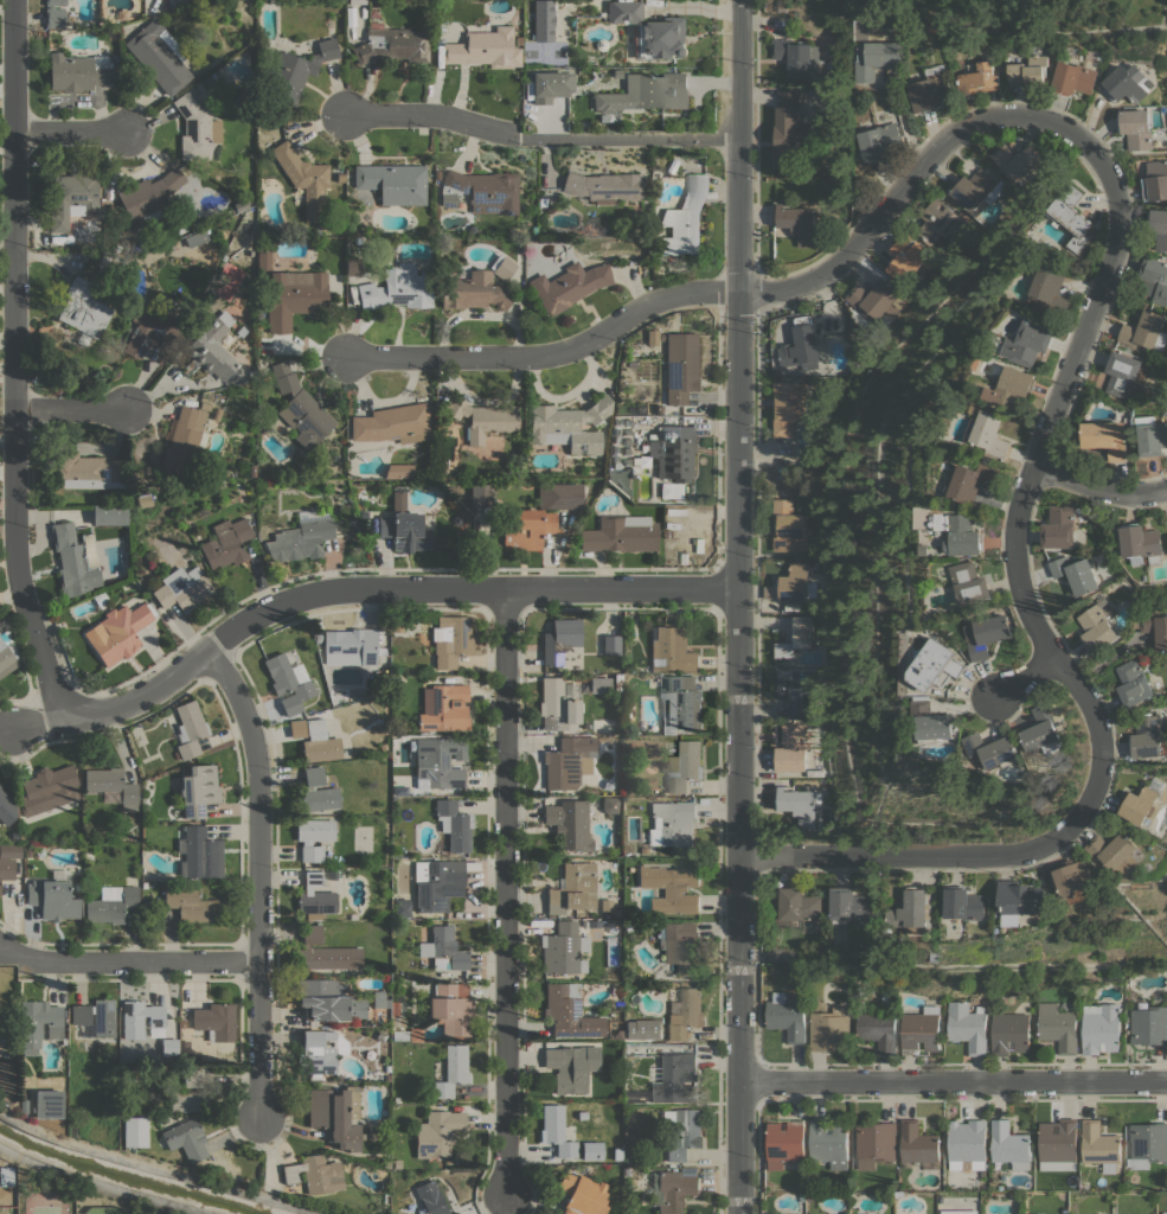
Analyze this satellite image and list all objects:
building: (54, 13)
building: (543, 20)
building: (650, 31)
building: (518, 39)
building: (390, 41)
building: (601, 45)
building: (483, 49)
building: (159, 55)
building: (794, 57)
building: (878, 59)
building: (296, 70)
building: (1031, 70)
building: (77, 71)
building: (979, 76)
building: (1076, 78)
building: (1128, 83)
building: (550, 85)
building: (932, 88)
building: (646, 92)
building: (603, 117)
building: (195, 128)
building: (1137, 128)
building: (789, 129)
road: (70, 130)
road: (541, 139)
building: (880, 141)
building: (1020, 162)
building: (437, 174)
building: (303, 180)
building: (1156, 180)
building: (392, 183)
building: (603, 186)
building: (976, 189)
building: (481, 191)
building: (148, 196)
building: (76, 198)
building: (541, 202)
building: (364, 216)
building: (685, 218)
building: (1071, 218)
building: (937, 221)
building: (797, 222)
building: (1160, 226)
building: (472, 228)
building: (358, 231)
building: (358, 239)
building: (263, 256)
building: (906, 256)
building: (243, 261)
building: (353, 266)
building: (501, 266)
building: (1154, 280)
building: (568, 286)
building: (398, 287)
building: (473, 290)
building: (1051, 290)
road: (755, 292)
building: (294, 296)
building: (877, 299)
building: (83, 307)
building: (150, 328)
building: (1144, 331)
building: (652, 337)
building: (1031, 343)
building: (804, 345)
building: (211, 350)
road: (15, 363)
building: (681, 366)
building: (1126, 373)
building: (1013, 386)
building: (204, 405)
building: (788, 405)
building: (300, 408)
road: (72, 409)
building: (630, 409)
building: (214, 413)
building: (482, 418)
building: (392, 423)
building: (569, 424)
building: (989, 428)
building: (652, 435)
building: (1152, 435)
building: (1107, 437)
building: (182, 439)
building: (673, 452)
building: (806, 468)
building: (250, 469)
building: (84, 471)
building: (399, 471)
building: (622, 479)
building: (976, 480)
road: (1027, 488)
road: (1101, 490)
building: (481, 496)
building: (559, 496)
building: (146, 499)
building: (109, 515)
building: (790, 528)
building: (1059, 528)
building: (527, 529)
building: (404, 531)
building: (620, 533)
building: (667, 533)
building: (966, 535)
building: (300, 537)
building: (225, 543)
building: (1142, 543)
building: (928, 549)
building: (72, 561)
building: (1076, 574)
building: (972, 582)
building: (794, 584)
building: (181, 588)
road: (355, 588)
building: (101, 600)
road: (738, 607)
building: (397, 624)
building: (1096, 628)
building: (1155, 628)
building: (118, 632)
building: (988, 635)
building: (796, 638)
building: (559, 639)
building: (451, 640)
building: (610, 645)
building: (350, 646)
building: (672, 651)
building: (6, 658)
building: (938, 664)
road: (1025, 676)
building: (397, 677)
building: (1135, 682)
building: (287, 683)
building: (599, 684)
building: (795, 697)
building: (560, 702)
building: (679, 702)
building: (443, 707)
building: (936, 721)
building: (296, 728)
building: (585, 728)
building: (188, 729)
building: (1044, 729)
building: (1148, 736)
building: (319, 742)
building: (791, 748)
building: (995, 749)
building: (568, 761)
building: (436, 765)
building: (685, 766)
building: (111, 785)
building: (47, 788)
building: (199, 790)
building: (318, 791)
building: (1143, 801)
building: (609, 804)
building: (799, 804)
building: (6, 807)
building: (570, 823)
building: (454, 824)
building: (672, 824)
building: (14, 833)
building: (315, 838)
building: (9, 849)
building: (28, 850)
building: (39, 850)
building: (642, 850)
building: (1113, 850)
building: (199, 854)
building: (89, 855)
road: (911, 855)
building: (7, 868)
road: (257, 876)
building: (1073, 876)
building: (437, 882)
building: (77, 886)
building: (573, 888)
building: (672, 888)
road: (507, 892)
building: (314, 894)
building: (53, 896)
building: (1020, 900)
building: (110, 903)
building: (190, 903)
building: (607, 905)
building: (849, 905)
building: (966, 905)
building: (799, 906)
building: (402, 907)
building: (912, 912)
building: (595, 924)
building: (681, 946)
building: (444, 947)
building: (563, 948)
building: (325, 952)
building: (781, 954)
road: (128, 961)
building: (1113, 976)
building: (889, 997)
building: (379, 998)
building: (974, 998)
building: (328, 999)
building: (395, 1009)
building: (453, 1009)
building: (569, 1011)
building: (685, 1014)
building: (788, 1014)
building: (95, 1017)
building: (142, 1020)
building: (216, 1021)
building: (38, 1023)
building: (182, 1023)
building: (1149, 1024)
building: (968, 1025)
building: (1059, 1027)
building: (1101, 1028)
building: (829, 1029)
building: (878, 1030)
building: (921, 1030)
building: (1009, 1033)
building: (413, 1034)
building: (400, 1036)
building: (169, 1047)
building: (187, 1052)
building: (320, 1052)
building: (571, 1066)
building: (451, 1071)
building: (662, 1073)
building: (7, 1076)
building: (192, 1078)
road: (953, 1081)
building: (24, 1082)
building: (188, 1100)
building: (336, 1114)
building: (582, 1114)
building: (133, 1131)
building: (556, 1131)
building: (437, 1132)
building: (682, 1132)
building: (186, 1139)
building: (829, 1142)
building: (967, 1142)
building: (876, 1143)
building: (786, 1144)
building: (1009, 1144)
building: (1058, 1144)
building: (1147, 1144)
building: (918, 1145)
building: (1099, 1145)
building: (591, 1150)
building: (617, 1155)
building: (629, 1159)
building: (654, 1162)
road: (160, 1168)
building: (626, 1171)
building: (315, 1173)
building: (6, 1176)
road: (101, 1184)
building: (672, 1190)
building: (582, 1194)
building: (434, 1202)
building: (957, 1212)
building: (455, 1213)
building: (767, 1213)
building: (775, 1213)
building: (865, 1213)
building: (1105, 1213)
building: (1165, 1213)

